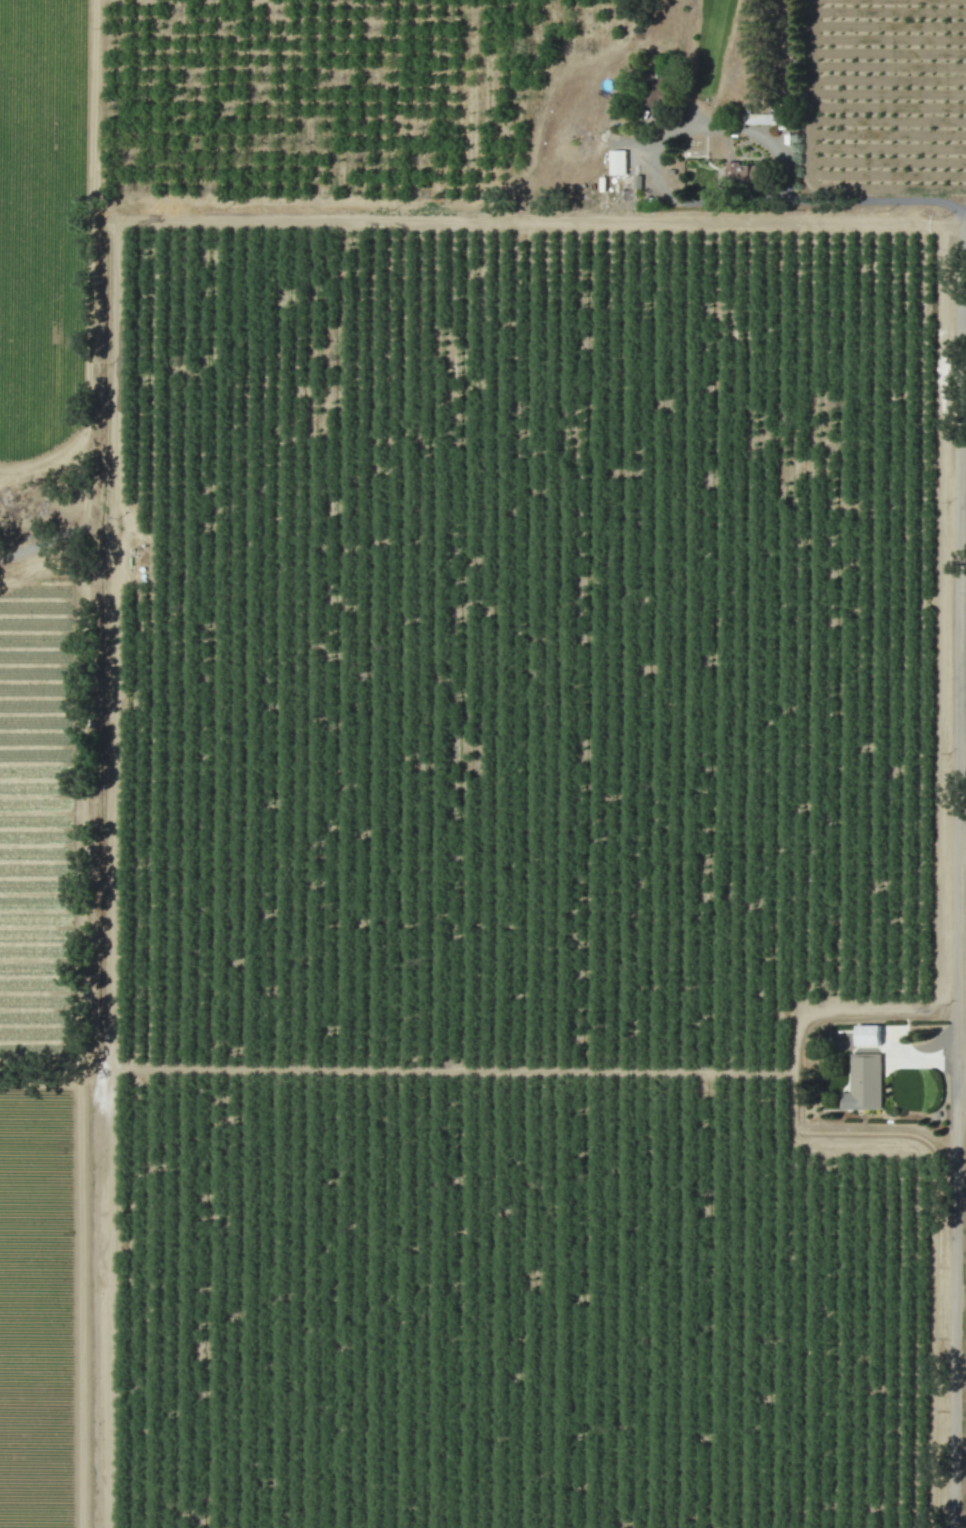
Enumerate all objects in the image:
road: (657, 145)
building: (620, 163)
building: (745, 175)
road: (879, 199)
building: (867, 1035)
road: (960, 1081)
building: (863, 1083)

